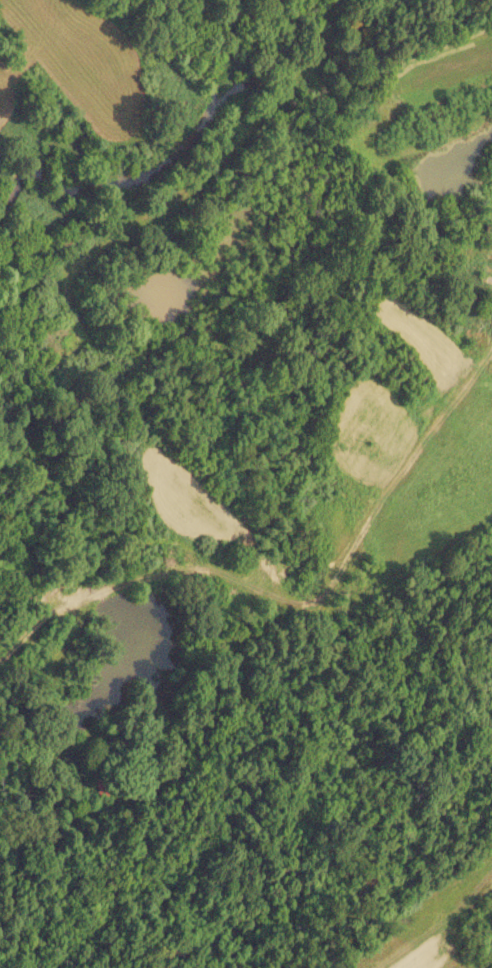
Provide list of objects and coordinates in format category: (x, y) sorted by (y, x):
building: (487, 235)

